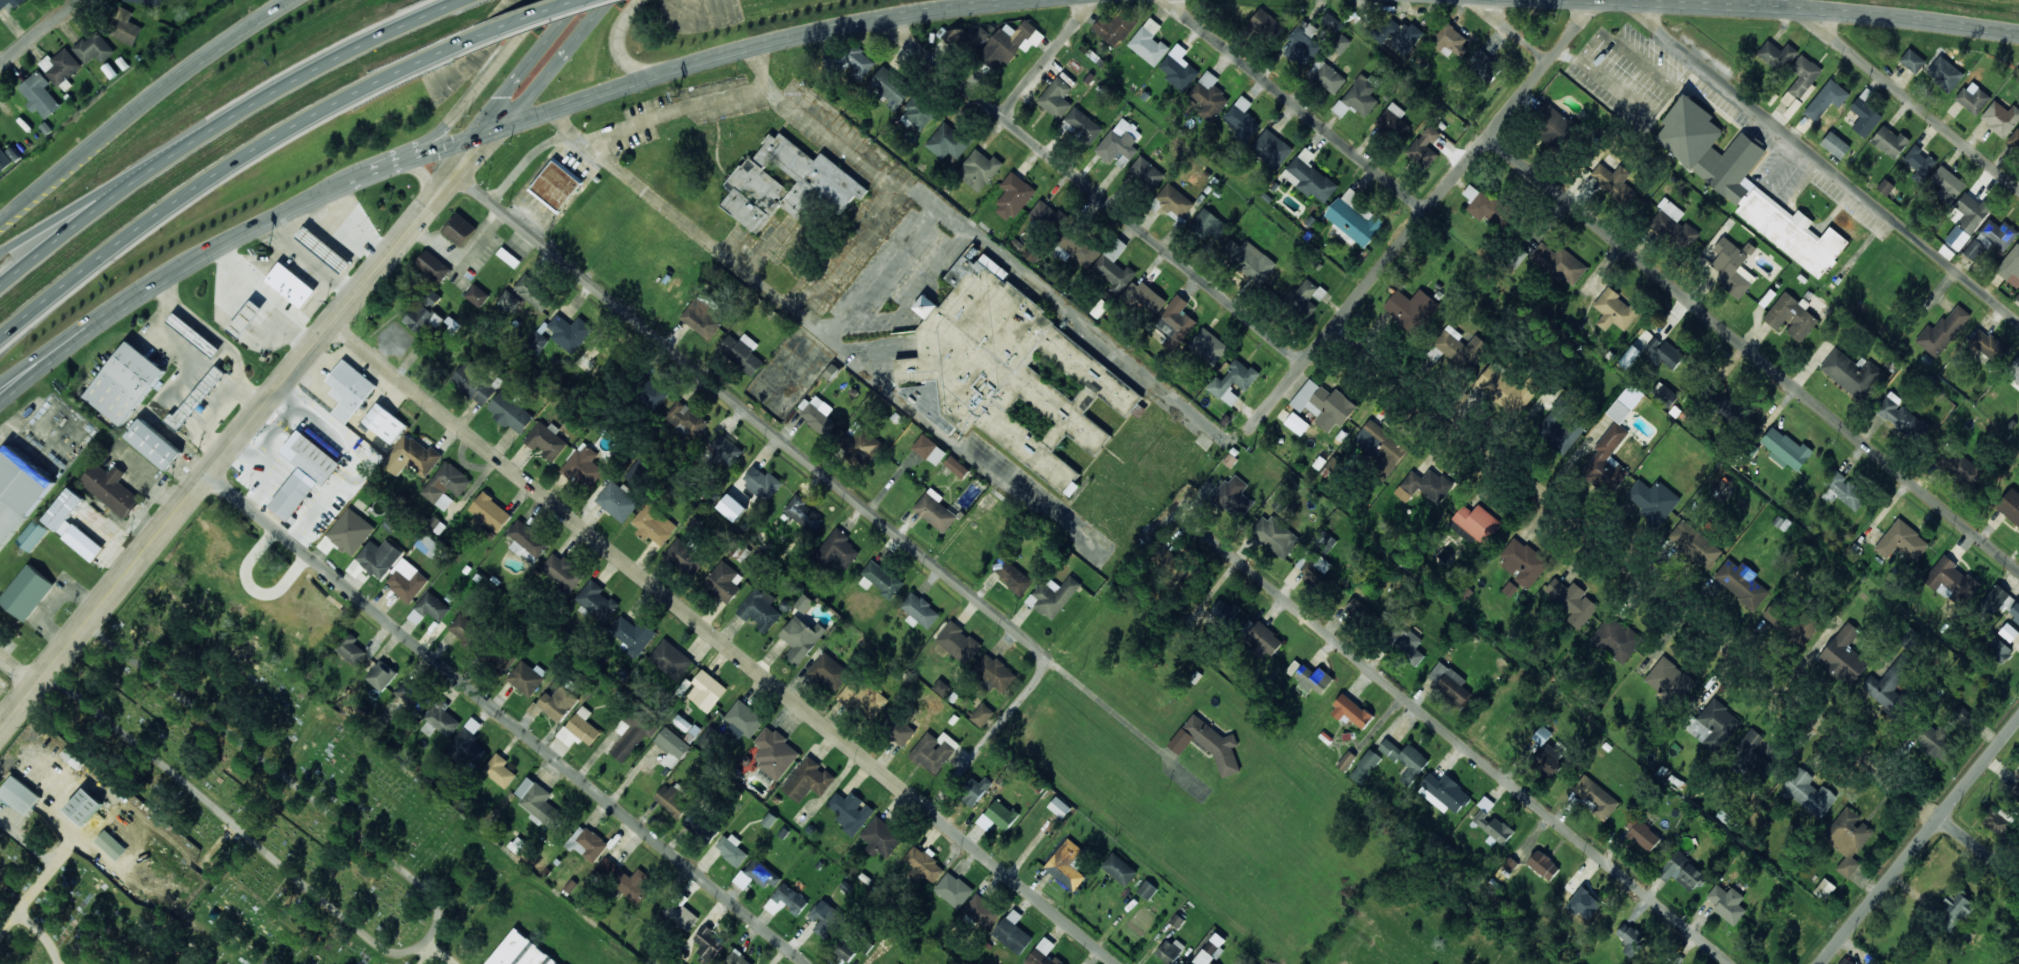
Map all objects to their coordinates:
building: (148, 1)
road: (449, 2)
building: (10, 3)
road: (1814, 9)
road: (527, 21)
building: (1266, 22)
building: (1331, 23)
building: (124, 26)
building: (1115, 27)
road: (1515, 30)
road: (38, 33)
road: (620, 38)
building: (1450, 40)
building: (1011, 42)
building: (1149, 42)
building: (1340, 43)
building: (92, 48)
building: (1777, 55)
road: (1046, 59)
building: (856, 60)
building: (1912, 60)
building: (1484, 65)
building: (60, 66)
building: (1178, 72)
building: (1944, 73)
building: (1327, 75)
building: (1802, 80)
building: (891, 87)
building: (41, 96)
road: (466, 96)
building: (1209, 96)
building: (1358, 96)
building: (1056, 97)
road: (1909, 98)
building: (1826, 99)
building: (1973, 99)
road: (1296, 105)
road: (145, 108)
building: (1865, 116)
building: (2001, 118)
building: (1242, 119)
building: (1393, 121)
building: (1083, 124)
building: (1553, 124)
road: (209, 128)
road: (490, 129)
building: (2015, 137)
building: (1890, 141)
building: (947, 142)
building: (1836, 145)
building: (1119, 146)
building: (1424, 146)
building: (1271, 148)
building: (1709, 148)
building: (4, 159)
road: (1821, 161)
building: (1919, 162)
building: (979, 169)
building: (1146, 172)
road: (219, 173)
building: (1309, 176)
building: (1614, 181)
road: (1449, 182)
building: (787, 183)
building: (1946, 183)
building: (556, 185)
building: (1885, 186)
road: (1092, 190)
building: (1014, 196)
building: (1175, 200)
building: (1482, 203)
road: (84, 206)
building: (1972, 211)
building: (1048, 216)
building: (1354, 217)
building: (1674, 223)
building: (1208, 224)
building: (460, 229)
building: (1791, 231)
building: (1957, 237)
building: (1991, 238)
building: (321, 247)
building: (1079, 247)
building: (1249, 260)
building: (1561, 263)
building: (2010, 263)
building: (433, 266)
building: (1114, 266)
building: (1733, 266)
building: (287, 281)
building: (533, 292)
building: (477, 295)
building: (1147, 297)
building: (1304, 297)
building: (2017, 297)
building: (509, 299)
building: (1410, 308)
building: (1615, 310)
building: (425, 315)
building: (242, 317)
building: (701, 318)
building: (1176, 319)
building: (192, 330)
building: (569, 331)
building: (1943, 331)
building: (538, 341)
building: (1989, 345)
building: (1208, 346)
building: (1459, 346)
building: (742, 352)
road: (1753, 352)
building: (1664, 353)
road: (297, 367)
building: (2013, 371)
building: (1012, 373)
building: (1851, 373)
building: (120, 379)
building: (1233, 381)
building: (474, 383)
building: (1509, 387)
road: (8, 389)
building: (349, 389)
building: (650, 392)
road: (1278, 394)
building: (1664, 394)
building: (198, 398)
building: (1324, 404)
building: (1725, 406)
building: (510, 412)
building: (817, 414)
building: (1898, 414)
road: (753, 415)
building: (685, 419)
building: (383, 420)
building: (1297, 423)
building: (1561, 426)
building: (546, 440)
building: (152, 441)
building: (862, 442)
building: (1382, 447)
building: (1785, 448)
building: (725, 449)
building: (929, 449)
building: (1608, 452)
building: (416, 454)
building: (315, 459)
building: (1333, 464)
building: (1957, 465)
building: (583, 466)
building: (956, 466)
building: (637, 471)
building: (762, 482)
building: (446, 485)
building: (1424, 486)
building: (111, 489)
building: (1843, 490)
building: (18, 491)
building: (291, 494)
building: (1233, 496)
building: (1653, 499)
building: (618, 500)
building: (1280, 503)
building: (2010, 505)
building: (732, 507)
building: (937, 510)
building: (490, 511)
building: (804, 514)
building: (72, 524)
building: (352, 524)
building: (654, 524)
building: (1474, 524)
building: (32, 534)
building: (1275, 535)
building: (527, 540)
building: (1902, 541)
building: (427, 544)
building: (1328, 544)
building: (1695, 544)
building: (837, 550)
building: (685, 556)
building: (378, 557)
building: (1522, 560)
building: (1316, 567)
building: (562, 571)
building: (1011, 574)
building: (882, 578)
building: (1950, 578)
building: (724, 581)
building: (1741, 582)
building: (407, 584)
building: (27, 592)
building: (1053, 596)
building: (597, 600)
building: (1997, 600)
building: (1572, 601)
building: (804, 603)
building: (1358, 604)
road: (1676, 605)
building: (433, 607)
building: (759, 608)
building: (919, 610)
building: (1776, 611)
building: (1224, 612)
building: (2015, 612)
building: (1803, 629)
building: (466, 630)
building: (2008, 632)
building: (632, 634)
building: (1908, 637)
building: (801, 638)
building: (1264, 638)
building: (1616, 639)
building: (958, 642)
road: (724, 643)
building: (1407, 643)
building: (351, 648)
building: (1997, 649)
building: (1843, 655)
building: (502, 659)
building: (671, 659)
road: (19, 671)
building: (830, 671)
building: (995, 672)
building: (379, 674)
building: (527, 677)
building: (1313, 678)
building: (1670, 680)
building: (1449, 682)
building: (1889, 682)
building: (706, 690)
building: (864, 696)
building: (414, 697)
building: (555, 703)
road: (1113, 711)
building: (1351, 711)
building: (982, 714)
building: (1963, 715)
building: (744, 718)
building: (441, 719)
road: (508, 720)
building: (1716, 724)
building: (579, 728)
building: (897, 728)
building: (631, 733)
road: (988, 736)
building: (707, 738)
building: (470, 740)
building: (1936, 740)
road: (1460, 742)
building: (1214, 744)
building: (1755, 748)
building: (934, 751)
building: (775, 753)
building: (1406, 759)
building: (1549, 759)
building: (1346, 760)
building: (1365, 766)
building: (499, 770)
building: (2017, 773)
building: (808, 779)
building: (2016, 787)
building: (975, 789)
park: (308, 792)
building: (1808, 792)
building: (1444, 793)
building: (20, 795)
building: (1596, 797)
building: (672, 800)
building: (539, 802)
building: (85, 806)
building: (1059, 807)
building: (851, 811)
building: (1001, 814)
building: (1998, 820)
building: (1492, 822)
building: (1643, 833)
building: (881, 837)
building: (1848, 838)
road: (1919, 841)
building: (587, 843)
building: (111, 845)
building: (732, 849)
building: (614, 860)
building: (924, 863)
building: (1066, 864)
building: (1509, 864)
building: (1543, 865)
park: (125, 868)
building: (1119, 869)
building: (1683, 871)
building: (763, 874)
road: (40, 883)
building: (633, 884)
building: (1824, 888)
building: (953, 889)
building: (1147, 889)
building: (786, 900)
building: (1584, 903)
building: (1727, 903)
building: (982, 911)
building: (1953, 912)
building: (679, 915)
building: (825, 920)
building: (1013, 932)
road: (40, 935)
road: (427, 937)
building: (1631, 939)
building: (709, 944)
building: (847, 945)
building: (1210, 950)
building: (1040, 951)
building: (1170, 951)
building: (520, 952)
road: (437, 953)
road: (425, 956)
building: (738, 958)
building: (1051, 960)
building: (674, 961)
building: (1846, 961)
building: (1672, 963)

